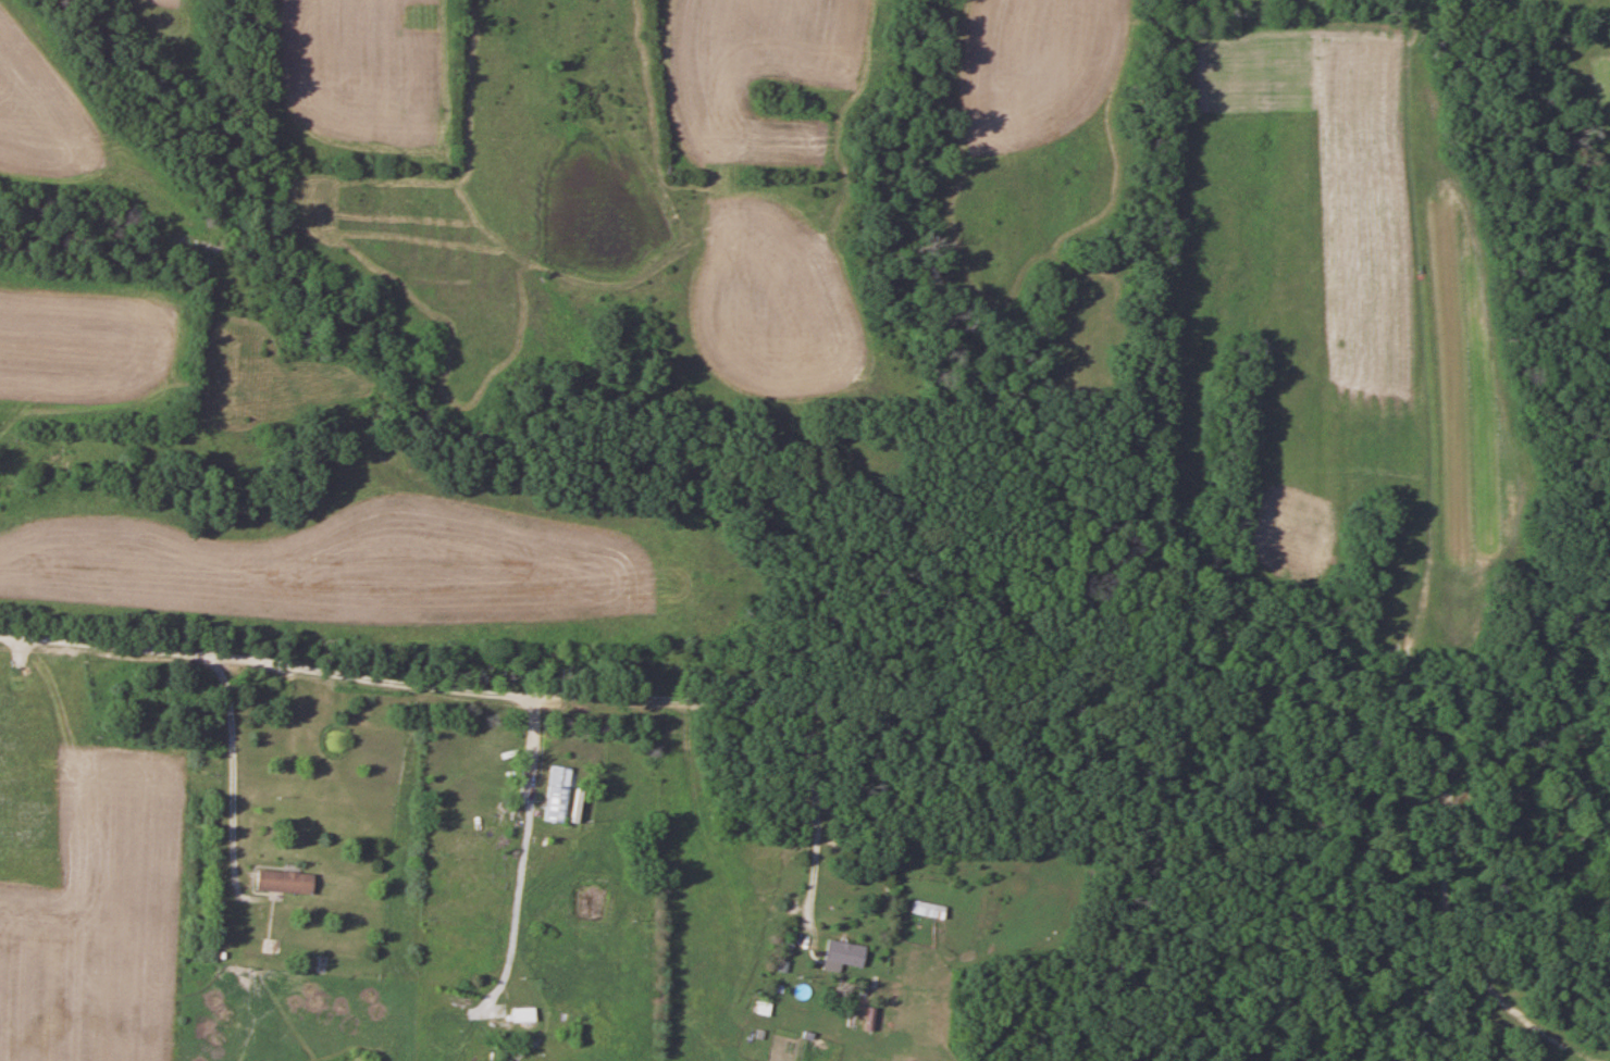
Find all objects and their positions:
road: (222, 662)
road: (532, 698)
road: (226, 765)
building: (558, 795)
building: (579, 800)
building: (285, 883)
building: (925, 910)
building: (839, 953)
building: (524, 1013)

